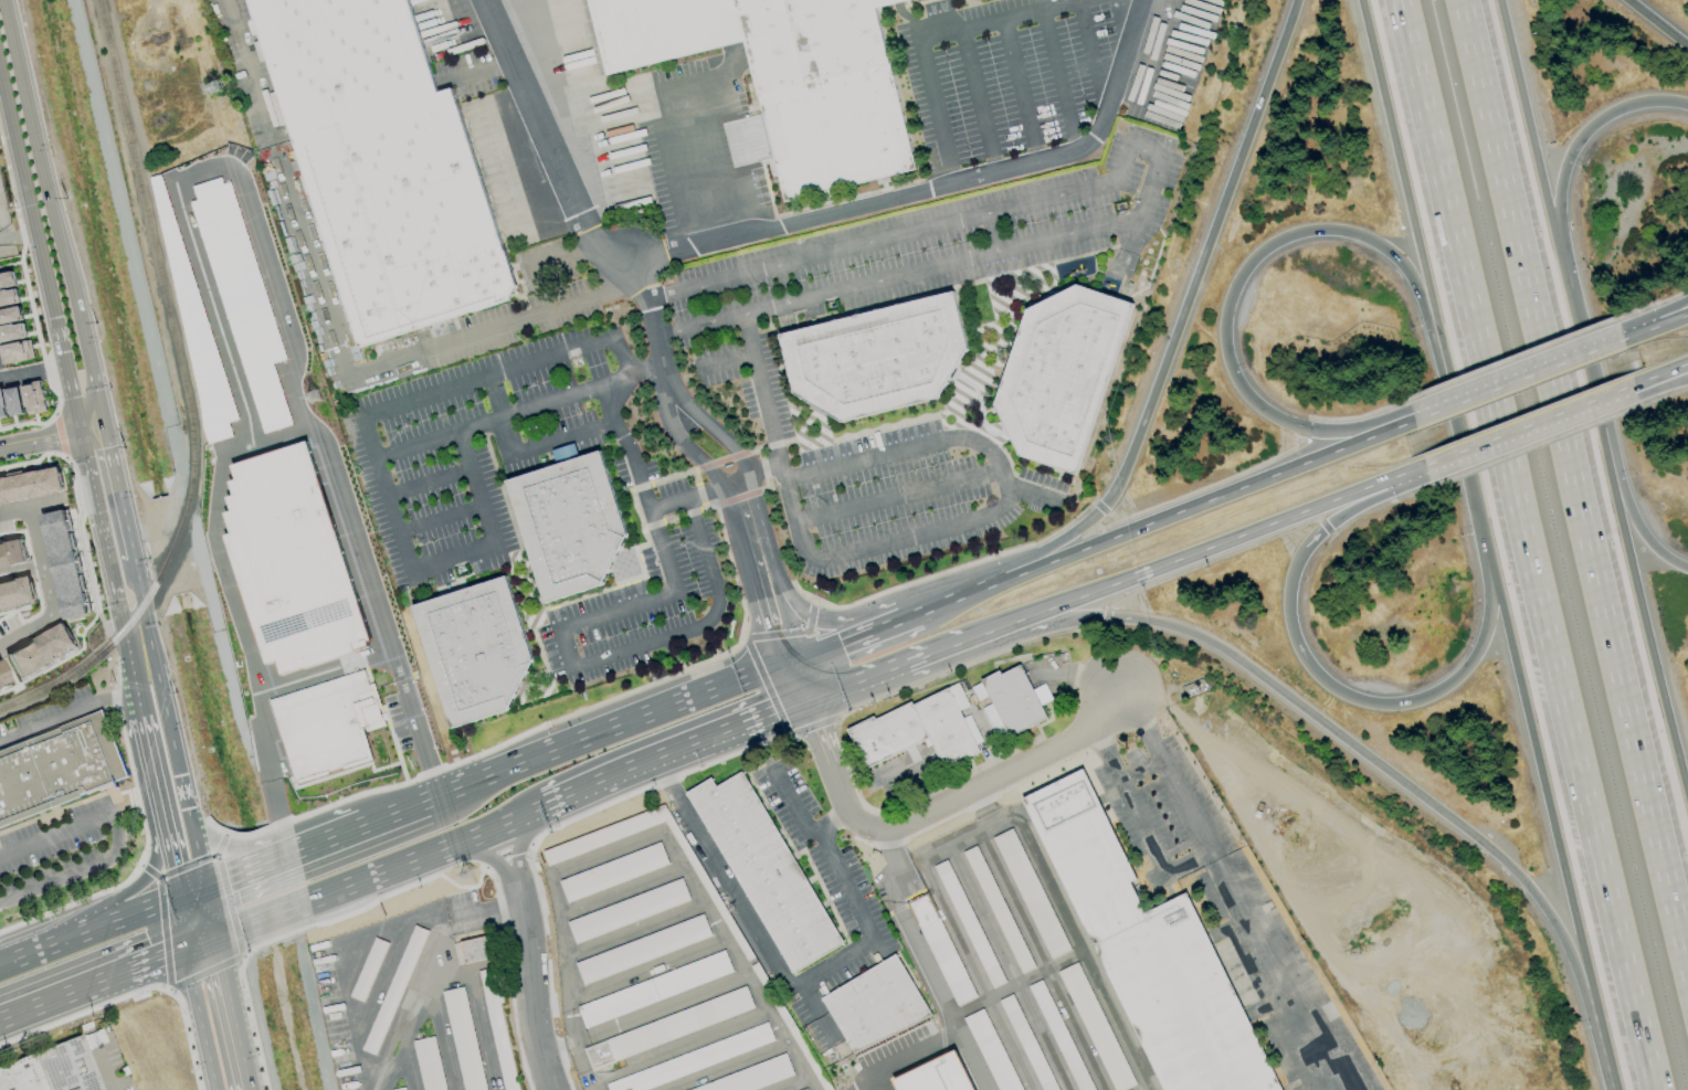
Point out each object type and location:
road: (996, 20)
road: (1655, 24)
road: (1089, 46)
building: (783, 76)
road: (1058, 80)
power tower: (214, 81)
road: (695, 83)
road: (1019, 91)
road: (977, 102)
road: (933, 112)
road: (1528, 118)
road: (663, 123)
road: (1584, 133)
road: (547, 146)
road: (1143, 150)
road: (737, 154)
building: (388, 161)
road: (693, 165)
road: (201, 169)
road: (662, 189)
road: (871, 203)
power substation: (10, 213)
road: (52, 213)
road: (297, 224)
road: (899, 235)
road: (992, 235)
park: (1127, 253)
road: (40, 255)
road: (534, 262)
road: (1421, 262)
road: (1245, 268)
road: (931, 272)
building: (7, 279)
road: (782, 286)
road: (1191, 286)
building: (8, 296)
building: (242, 300)
road: (1654, 303)
building: (189, 307)
building: (10, 314)
road: (531, 318)
road: (1655, 324)
road: (1655, 330)
building: (11, 331)
road: (1576, 332)
building: (15, 352)
building: (875, 361)
road: (1505, 361)
road: (19, 374)
building: (1062, 374)
road: (486, 375)
road: (1659, 375)
road: (1517, 383)
road: (1659, 383)
power tower: (314, 388)
railway: (186, 392)
road: (1671, 394)
building: (32, 399)
building: (13, 401)
building: (1, 408)
road: (518, 410)
road: (1349, 417)
building: (772, 419)
road: (1301, 427)
road: (1527, 427)
road: (92, 430)
road: (718, 432)
road: (929, 440)
road: (40, 441)
road: (255, 443)
road: (1541, 444)
road: (525, 447)
road: (690, 447)
building: (563, 453)
road: (757, 470)
road: (426, 481)
building: (29, 483)
road: (1573, 483)
road: (1203, 487)
road: (1233, 490)
road: (118, 493)
road: (899, 498)
road: (667, 504)
road: (1098, 508)
road: (1627, 510)
road: (439, 517)
building: (567, 528)
road: (1529, 544)
road: (802, 547)
building: (10, 551)
road: (1201, 553)
building: (289, 560)
road: (453, 561)
building: (62, 564)
road: (762, 568)
road: (1009, 569)
road: (946, 571)
road: (110, 574)
road: (1012, 575)
road: (42, 578)
building: (14, 591)
road: (942, 600)
road: (812, 602)
road: (794, 606)
road: (885, 614)
road: (1640, 618)
traffic signals: (781, 629)
road: (853, 633)
traffic signals: (837, 639)
road: (970, 641)
road: (565, 642)
building: (38, 649)
building: (473, 649)
road: (152, 658)
road: (752, 658)
road: (319, 671)
road: (884, 674)
building: (2, 675)
road: (1080, 678)
road: (798, 679)
road: (1329, 687)
road: (697, 692)
building: (1007, 701)
road: (67, 711)
traffic signals: (774, 716)
building: (325, 724)
traffic signals: (816, 729)
building: (919, 729)
road: (720, 736)
road: (1364, 758)
road: (514, 765)
road: (1142, 768)
building: (57, 771)
road: (152, 772)
road: (182, 790)
road: (589, 790)
road: (1133, 795)
road: (938, 804)
road: (981, 805)
road: (1545, 807)
road: (391, 813)
road: (827, 818)
road: (499, 825)
building: (612, 834)
road: (115, 837)
road: (320, 840)
road: (219, 843)
road: (514, 847)
road: (229, 850)
road: (605, 851)
road: (824, 853)
road: (197, 854)
road: (488, 855)
road: (172, 861)
road: (1188, 864)
road: (186, 866)
traffic signals: (175, 867)
road: (148, 870)
building: (763, 870)
power tower: (471, 871)
road: (242, 872)
building: (612, 872)
road: (722, 877)
traffic signals: (225, 880)
road: (144, 881)
road: (619, 887)
road: (335, 889)
road: (1227, 890)
road: (191, 892)
building: (1030, 893)
road: (72, 902)
road: (228, 904)
building: (996, 909)
road: (140, 911)
building: (626, 911)
road: (209, 912)
road: (484, 917)
road: (182, 923)
road: (632, 928)
road: (162, 932)
road: (958, 940)
road: (199, 942)
road: (1076, 942)
road: (52, 944)
building: (641, 949)
building: (940, 950)
building: (472, 951)
building: (1154, 956)
traffic signals: (161, 957)
road: (924, 963)
traffic signals: (221, 969)
road: (831, 969)
road: (645, 970)
road: (204, 971)
road: (92, 983)
road: (722, 984)
road: (529, 985)
building: (653, 988)
road: (473, 1001)
building: (873, 1004)
road: (83, 1012)
road: (230, 1013)
road: (199, 1019)
road: (251, 1023)
building: (1095, 1027)
building: (667, 1028)
road: (184, 1038)
building: (463, 1039)
road: (678, 1045)
road: (557, 1047)
building: (993, 1054)
building: (1033, 1056)
road: (907, 1057)
building: (692, 1060)
building: (429, 1063)
road: (583, 1065)
road: (725, 1066)
building: (52, 1068)
road: (105, 1070)
building: (938, 1075)
building: (750, 1078)
road: (785, 1081)
building: (401, 1089)

